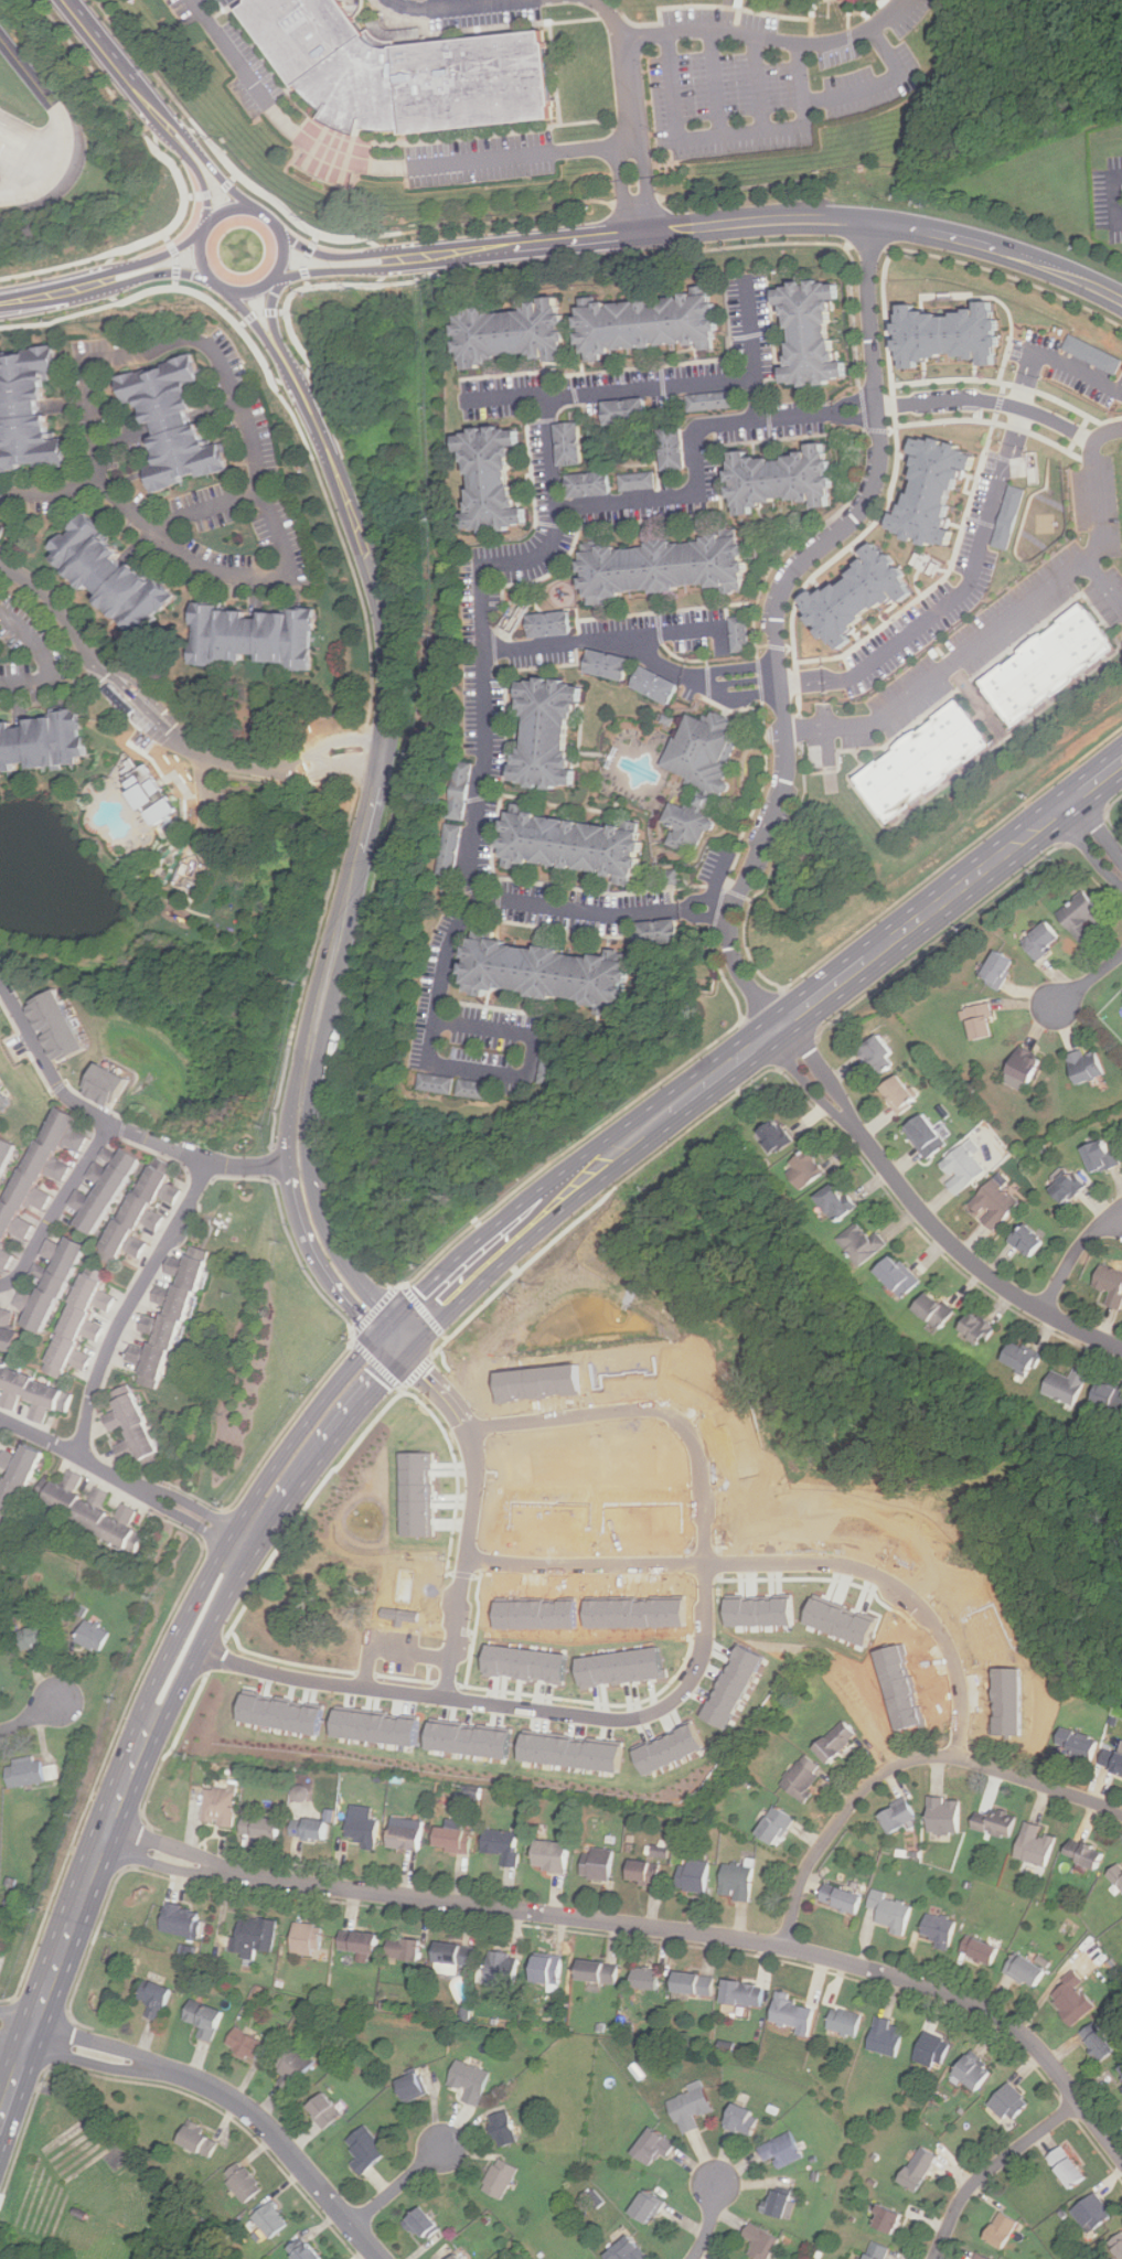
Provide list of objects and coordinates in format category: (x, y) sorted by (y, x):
road: (197, 1)
road: (448, 6)
road: (727, 15)
road: (768, 39)
road: (113, 54)
road: (148, 65)
road: (621, 67)
road: (26, 71)
building: (403, 71)
road: (98, 74)
road: (878, 83)
road: (717, 84)
road: (758, 84)
road: (178, 120)
road: (158, 128)
road: (172, 128)
road: (730, 135)
road: (29, 156)
road: (374, 167)
road: (57, 169)
road: (220, 179)
road: (205, 184)
road: (645, 185)
road: (622, 188)
road: (214, 192)
road: (1120, 197)
parking lot: (1112, 199)
road: (274, 201)
road: (639, 201)
road: (183, 216)
road: (491, 222)
road: (887, 223)
road: (521, 244)
road: (866, 244)
road: (846, 245)
road: (383, 248)
road: (694, 251)
road: (180, 254)
road: (311, 254)
road: (179, 258)
road: (304, 259)
road: (202, 260)
road: (371, 261)
road: (308, 265)
road: (181, 267)
road: (57, 268)
road: (104, 269)
road: (388, 271)
road: (1006, 275)
road: (77, 288)
road: (296, 290)
road: (106, 292)
road: (214, 299)
road: (268, 306)
road: (252, 311)
road: (261, 312)
road: (61, 319)
building: (640, 322)
building: (804, 330)
building: (939, 331)
building: (505, 332)
building: (1092, 354)
road: (288, 366)
road: (306, 379)
road: (288, 386)
building: (708, 404)
building: (32, 410)
building: (619, 413)
road: (313, 418)
road: (791, 418)
building: (180, 421)
road: (254, 429)
building: (568, 443)
building: (667, 449)
building: (487, 474)
building: (774, 480)
road: (46, 482)
building: (631, 482)
building: (584, 485)
building: (923, 490)
road: (211, 508)
building: (1011, 516)
building: (1, 532)
road: (980, 532)
road: (345, 548)
road: (544, 553)
building: (656, 565)
building: (119, 572)
building: (848, 592)
road: (774, 618)
road: (1004, 621)
building: (549, 624)
road: (670, 630)
building: (739, 633)
building: (259, 635)
road: (634, 653)
road: (47, 659)
building: (1048, 663)
building: (609, 665)
building: (655, 685)
road: (129, 686)
building: (548, 731)
building: (44, 741)
road: (342, 741)
building: (698, 748)
road: (367, 752)
road: (292, 760)
building: (922, 760)
road: (380, 768)
road: (332, 769)
building: (459, 791)
building: (152, 793)
road: (1112, 803)
road: (204, 818)
building: (682, 825)
road: (1086, 827)
road: (1093, 838)
building: (564, 839)
building: (450, 849)
road: (952, 857)
fountain: (39, 866)
road: (521, 902)
building: (1079, 916)
building: (658, 932)
road: (938, 938)
building: (1039, 940)
building: (542, 968)
building: (994, 968)
road: (1089, 979)
road: (763, 1006)
building: (977, 1020)
building: (60, 1026)
road: (794, 1052)
road: (531, 1054)
building: (876, 1054)
building: (546, 1062)
building: (1022, 1064)
building: (1083, 1064)
building: (107, 1085)
building: (431, 1085)
building: (473, 1092)
building: (896, 1093)
building: (4, 1100)
road: (117, 1126)
building: (772, 1135)
building: (923, 1135)
building: (1098, 1155)
building: (9, 1158)
building: (962, 1166)
building: (803, 1168)
building: (41, 1177)
building: (1065, 1187)
building: (108, 1191)
building: (833, 1201)
building: (992, 1203)
road: (597, 1206)
road: (57, 1209)
building: (145, 1211)
road: (926, 1213)
road: (319, 1231)
road: (309, 1234)
building: (1025, 1240)
building: (861, 1243)
road: (1076, 1256)
building: (895, 1275)
building: (56, 1283)
building: (1109, 1284)
road: (130, 1304)
building: (931, 1309)
road: (423, 1310)
building: (173, 1320)
building: (84, 1324)
road: (413, 1326)
building: (974, 1329)
building: (8, 1332)
road: (446, 1336)
traffic signals: (399, 1340)
building: (1018, 1358)
road: (417, 1371)
building: (542, 1377)
building: (1065, 1385)
building: (35, 1392)
building: (1108, 1395)
road: (1, 1424)
building: (138, 1428)
road: (124, 1479)
building: (17, 1482)
building: (416, 1495)
road: (306, 1508)
road: (471, 1508)
building: (551, 1509)
building: (95, 1510)
building: (643, 1510)
road: (780, 1564)
road: (708, 1567)
building: (406, 1605)
building: (760, 1610)
building: (535, 1612)
building: (637, 1613)
building: (841, 1620)
building: (40, 1636)
building: (96, 1637)
road: (393, 1648)
road: (215, 1658)
building: (525, 1663)
building: (621, 1668)
building: (0, 1679)
road: (317, 1679)
building: (901, 1680)
building: (733, 1685)
building: (1011, 1694)
building: (282, 1714)
road: (31, 1719)
building: (377, 1726)
building: (471, 1741)
building: (841, 1743)
building: (1078, 1746)
road: (171, 1747)
building: (670, 1748)
building: (573, 1752)
road: (902, 1760)
building: (1111, 1762)
building: (29, 1775)
building: (805, 1779)
building: (223, 1808)
building: (895, 1816)
building: (942, 1816)
building: (992, 1823)
building: (780, 1826)
building: (266, 1828)
building: (314, 1830)
building: (367, 1831)
building: (406, 1837)
building: (457, 1841)
road: (136, 1844)
building: (507, 1845)
building: (1033, 1846)
building: (660, 1850)
building: (1080, 1854)
building: (556, 1856)
building: (601, 1865)
building: (643, 1873)
building: (693, 1874)
building: (1115, 1875)
building: (735, 1880)
building: (844, 1898)
building: (895, 1912)
building: (183, 1920)
road: (649, 1928)
building: (942, 1930)
building: (257, 1936)
building: (306, 1938)
building: (1, 1939)
road: (94, 1941)
building: (357, 1941)
building: (408, 1949)
building: (979, 1950)
building: (449, 1956)
building: (498, 1967)
building: (551, 1969)
building: (1024, 1970)
building: (601, 1971)
building: (650, 1978)
building: (697, 1983)
building: (747, 1993)
building: (159, 1999)
building: (1069, 1999)
building: (791, 2011)
building: (207, 2020)
building: (847, 2022)
building: (889, 2036)
road: (64, 2042)
building: (1097, 2042)
building: (249, 2045)
building: (936, 2051)
building: (297, 2066)
building: (977, 2071)
building: (1119, 2071)
building: (473, 2081)
building: (416, 2088)
road: (221, 2091)
building: (1012, 2103)
building: (694, 2108)
building: (329, 2111)
building: (747, 2120)
building: (506, 2129)
road: (23, 2132)
building: (202, 2140)
building: (659, 2146)
building: (370, 2149)
building: (786, 2150)
building: (1067, 2166)
road: (993, 2169)
building: (925, 2170)
building: (503, 2177)
building: (247, 2182)
road: (397, 2187)
building: (786, 2205)
building: (652, 2207)
building: (1091, 2213)
building: (275, 2219)
building: (894, 2219)
road: (710, 2221)
building: (427, 2224)
building: (1002, 2230)
building: (767, 2240)
building: (1118, 2245)
building: (626, 2249)
building: (309, 2250)
building: (880, 2250)
building: (456, 2256)
building: (985, 2257)

